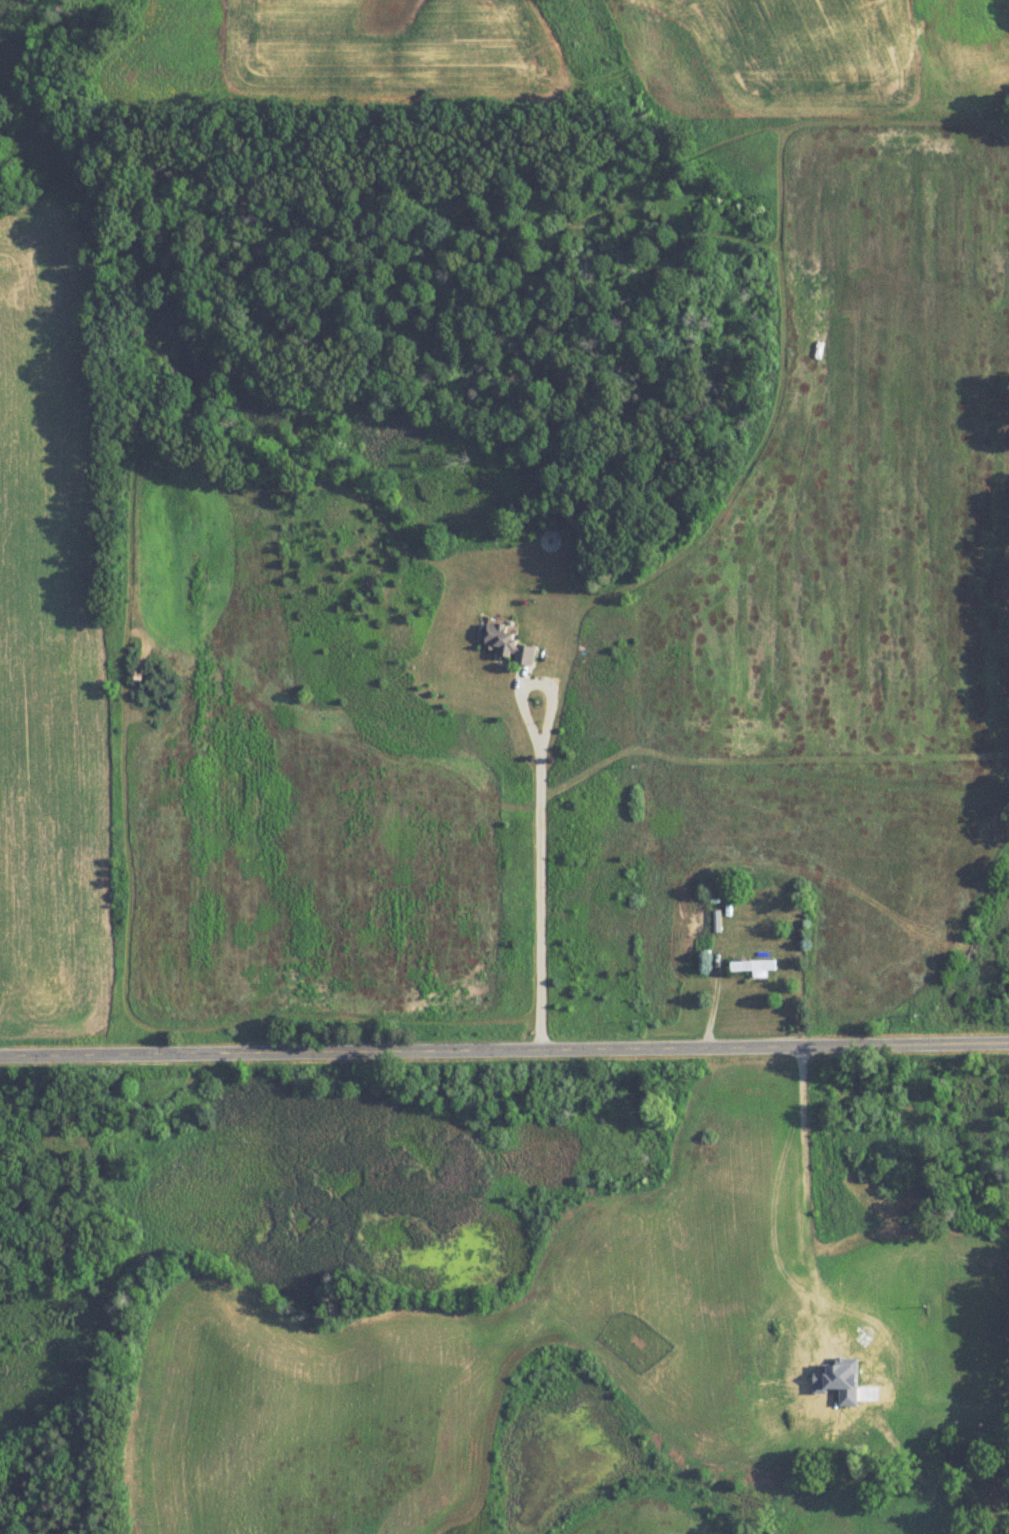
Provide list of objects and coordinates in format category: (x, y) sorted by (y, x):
building: (508, 644)
road: (535, 815)
building: (754, 967)
road: (714, 987)
road: (504, 1036)
road: (810, 1278)
building: (983, 1498)
building: (906, 1509)

